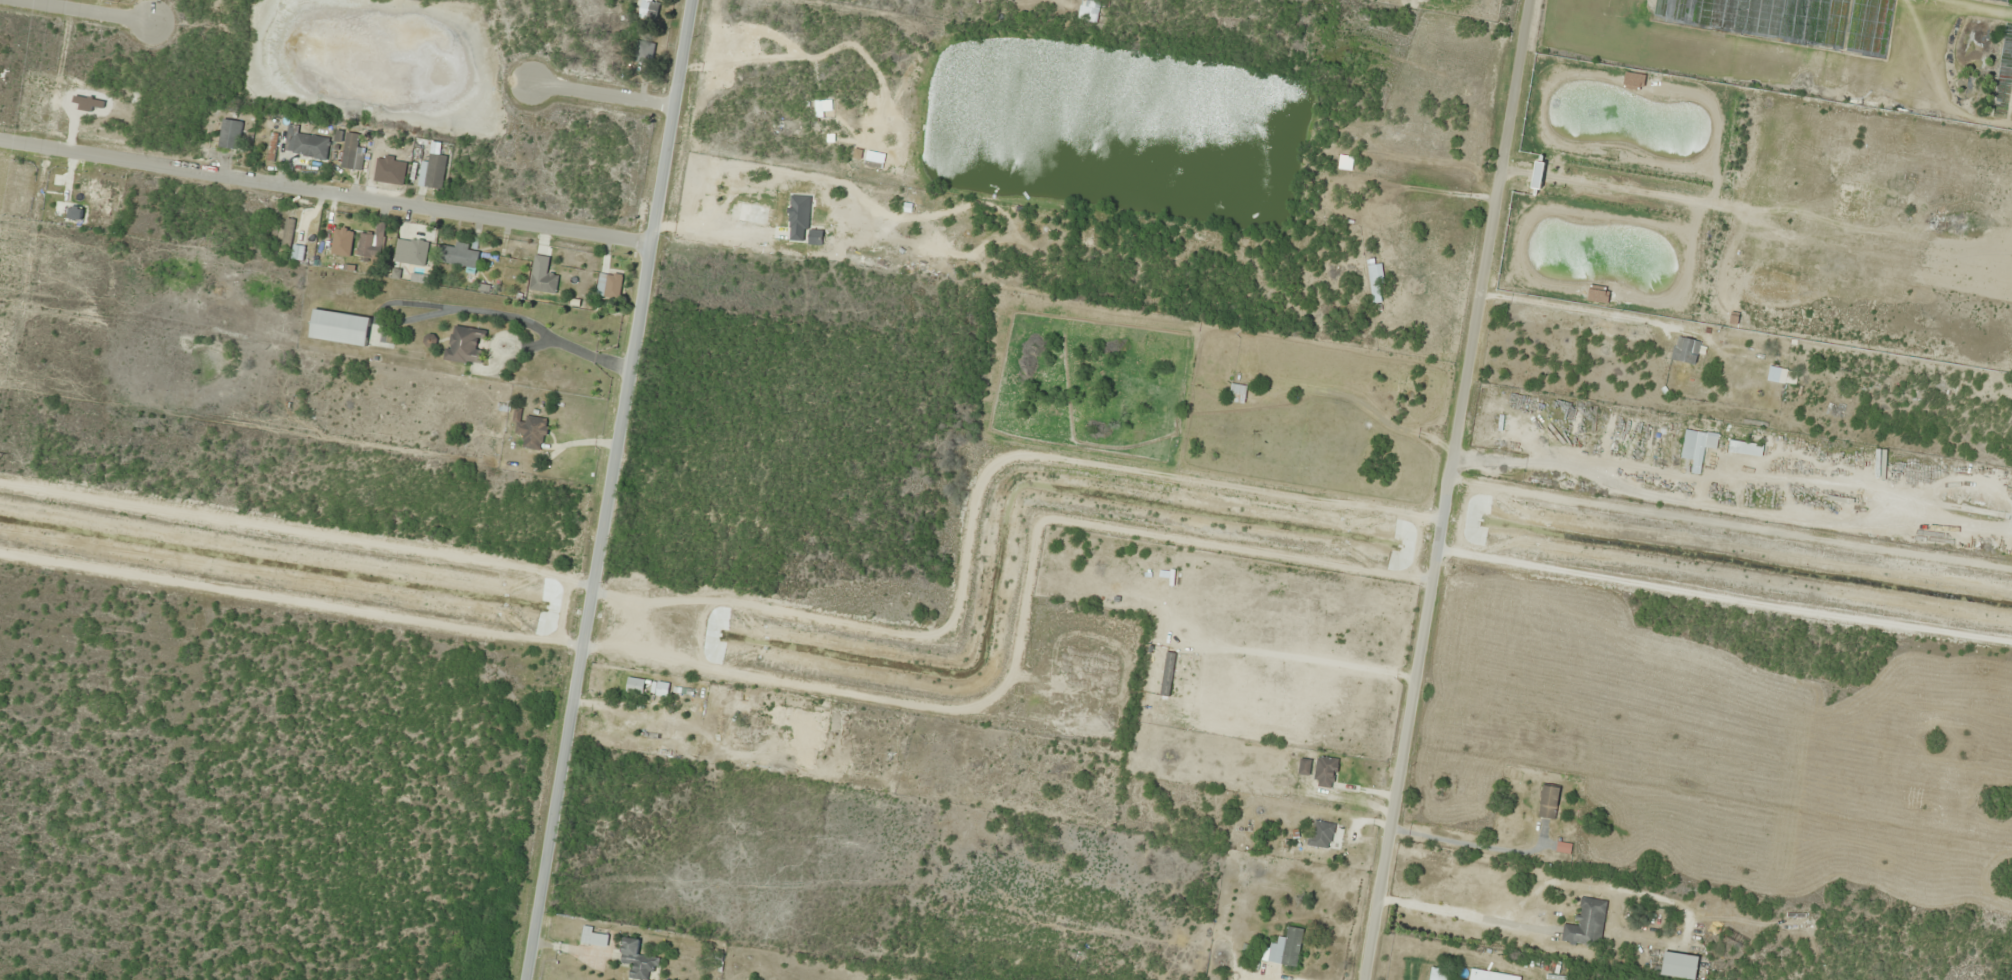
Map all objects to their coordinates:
building: (2004, 0)
building: (646, 9)
building: (1089, 10)
road: (99, 13)
building: (643, 51)
building: (230, 133)
building: (308, 145)
building: (352, 151)
building: (433, 171)
road: (328, 190)
building: (924, 198)
building: (1852, 200)
building: (757, 214)
building: (371, 242)
building: (411, 251)
building: (460, 255)
building: (544, 282)
building: (609, 285)
building: (339, 327)
building: (465, 344)
building: (1686, 350)
building: (1945, 351)
building: (1782, 375)
building: (532, 432)
building: (1697, 447)
road: (615, 490)
road: (1418, 490)
building: (1305, 766)
building: (1325, 772)
building: (1549, 802)
building: (1321, 834)
building: (1563, 847)
building: (1586, 923)
building: (593, 937)
building: (1285, 948)
building: (1247, 949)
building: (637, 960)
building: (1680, 966)
building: (1441, 974)

